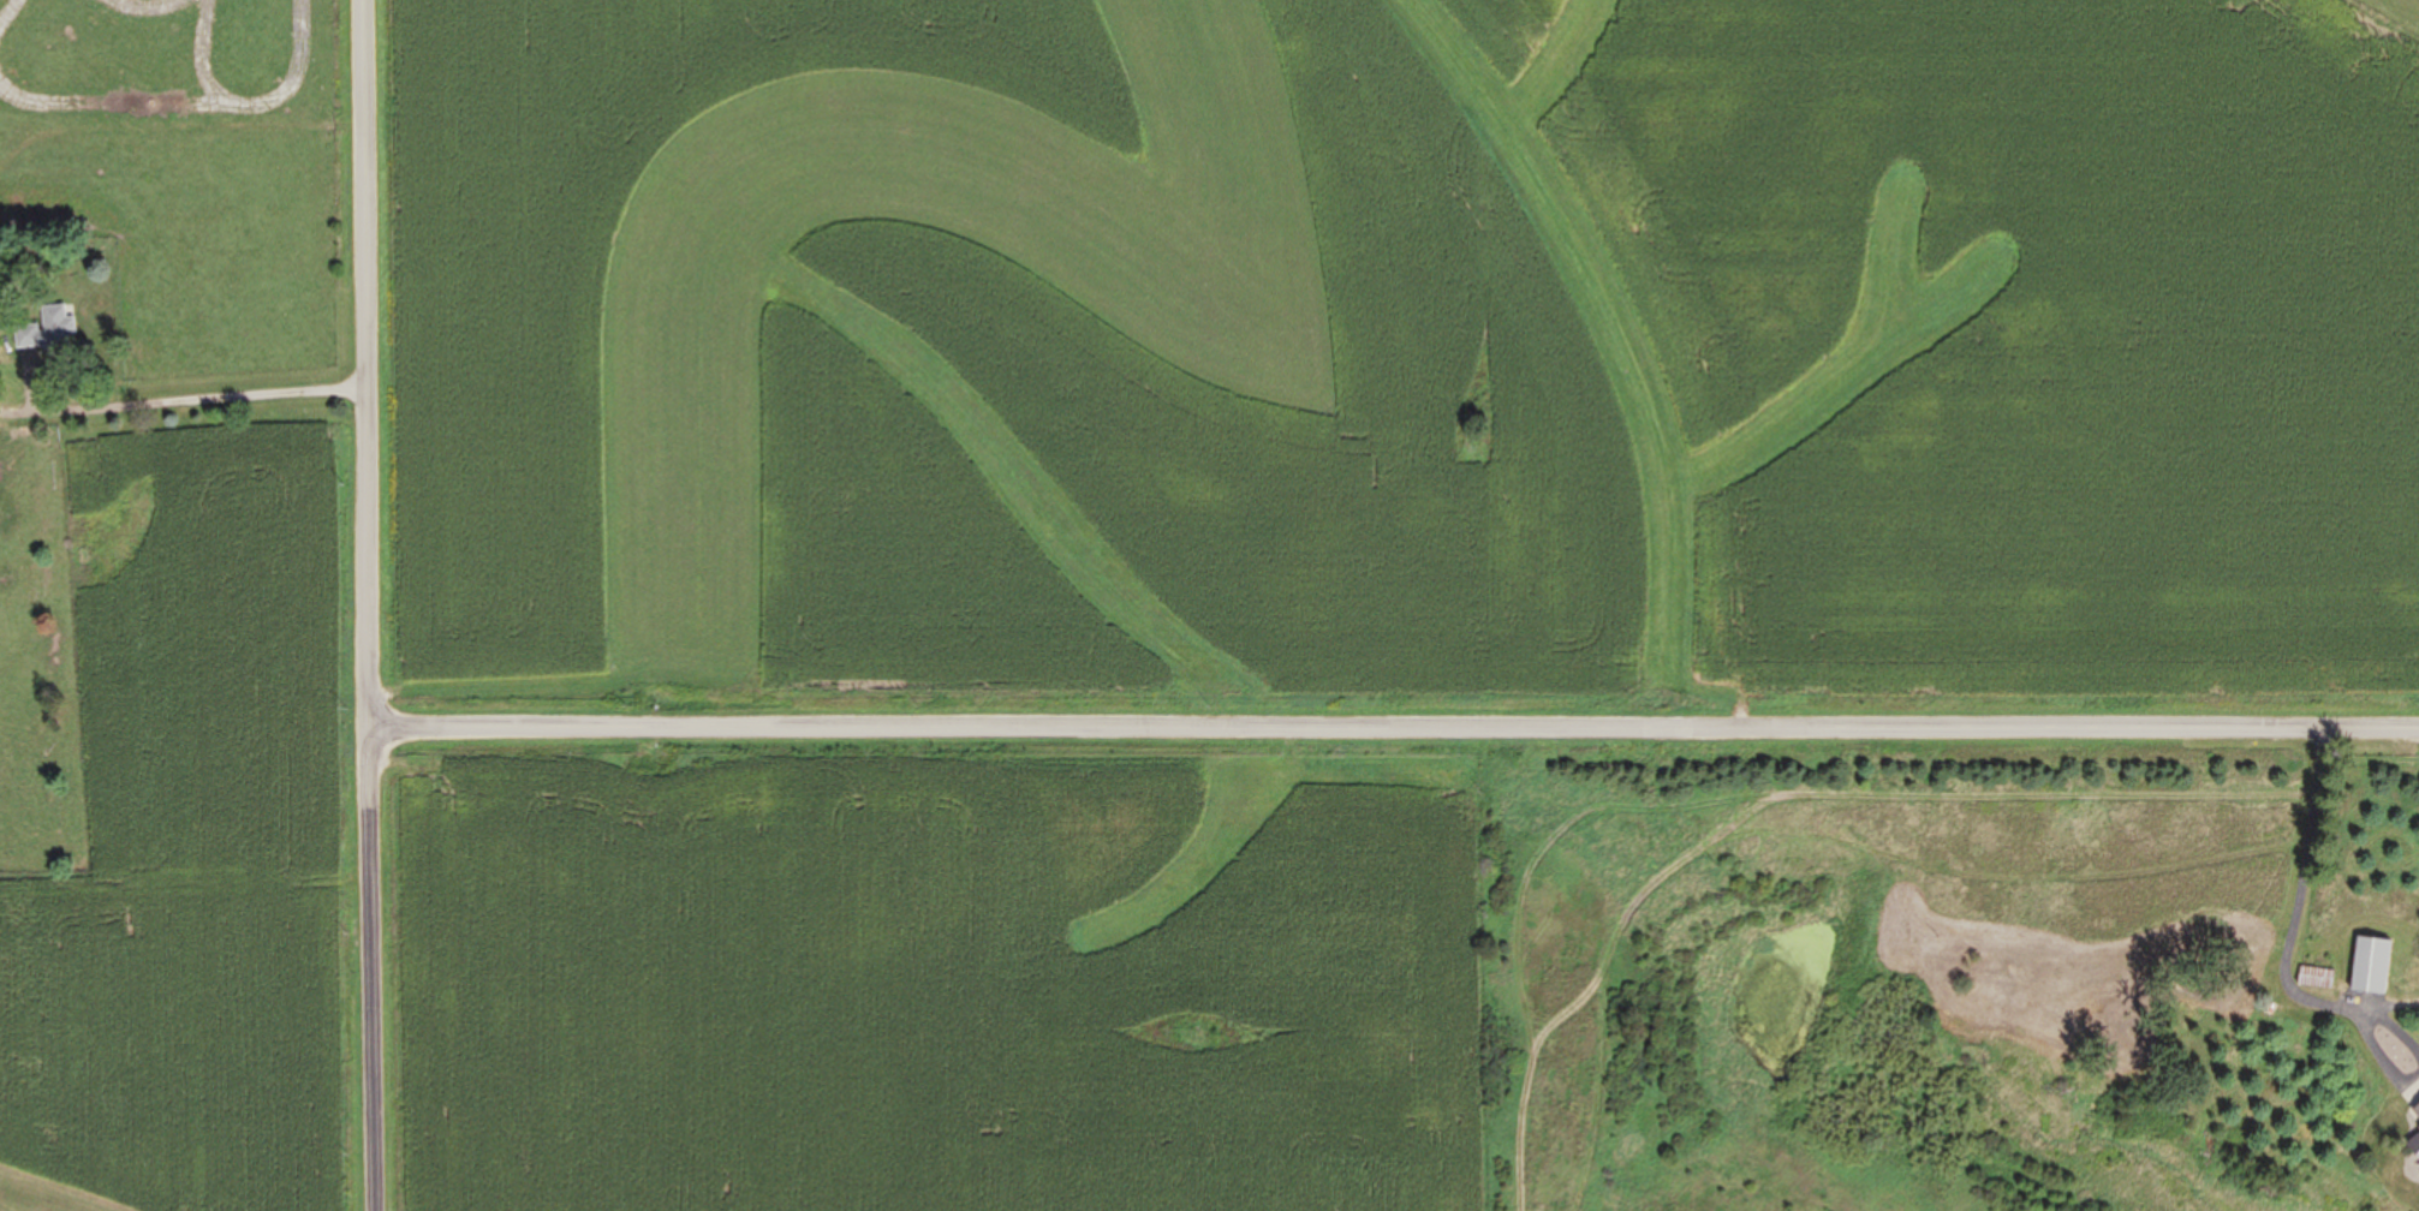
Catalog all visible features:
building: (47, 332)
road: (359, 365)
road: (196, 400)
road: (1392, 728)
road: (2290, 924)
building: (2244, 941)
building: (2372, 966)
road: (369, 971)
building: (2316, 979)
building: (2417, 1111)
building: (2414, 1144)

